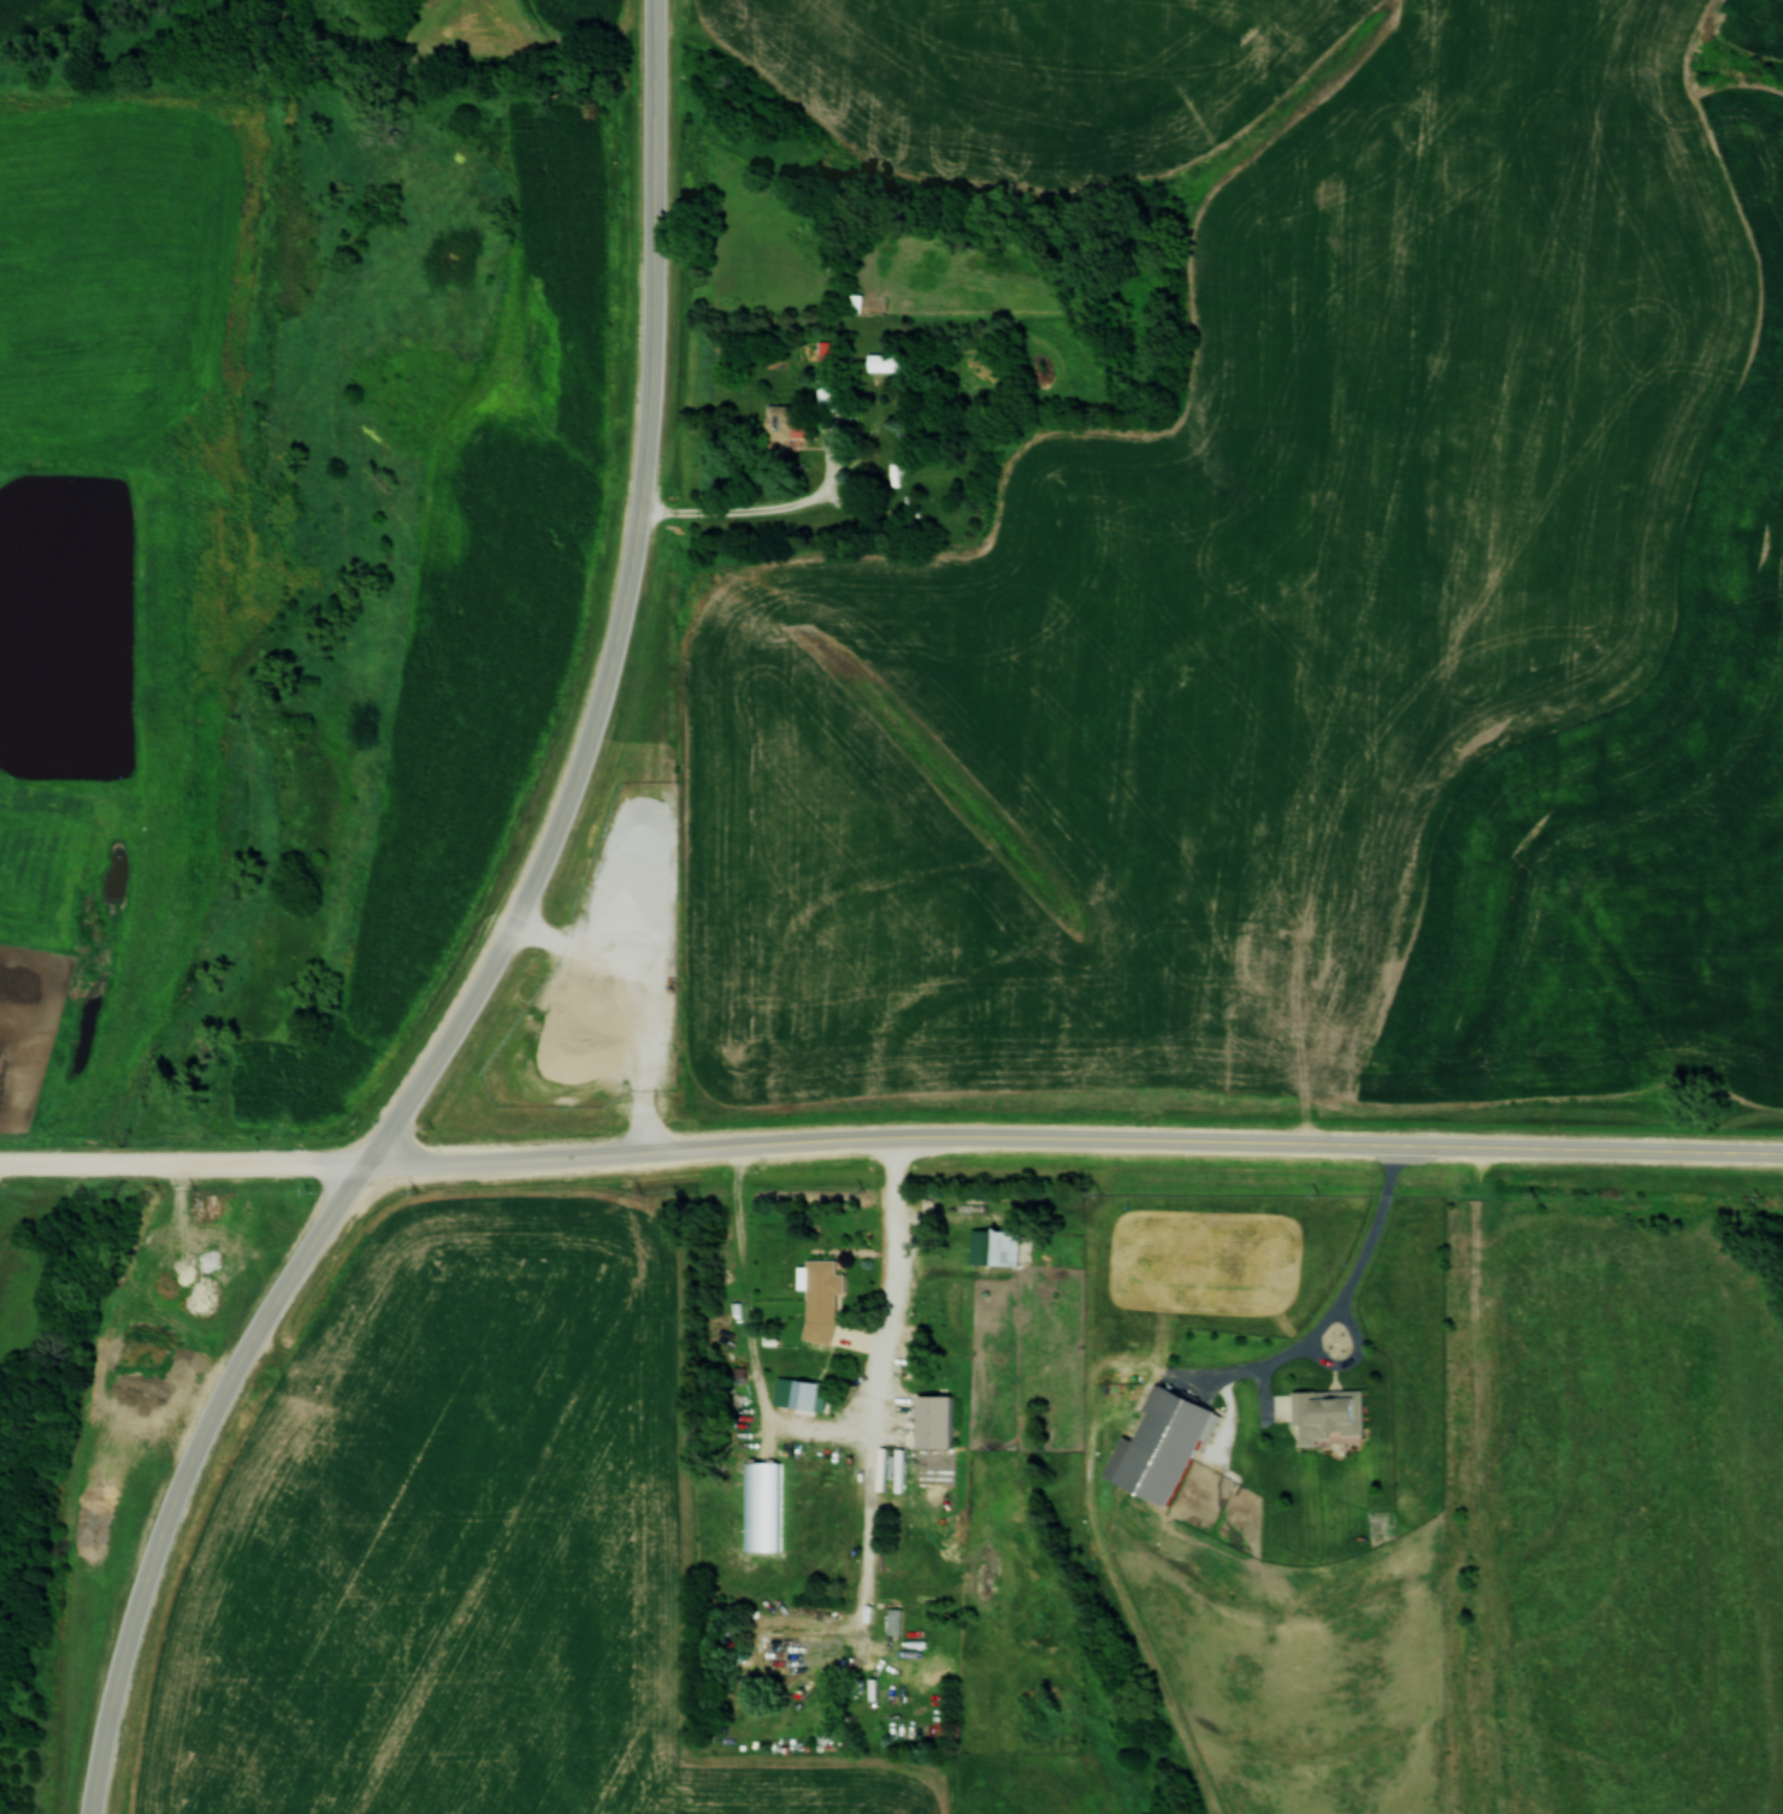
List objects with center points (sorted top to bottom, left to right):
building: (886, 361)
building: (826, 392)
building: (781, 424)
building: (856, 484)
building: (908, 506)
road: (622, 610)
road: (1074, 1136)
road: (183, 1160)
building: (993, 1246)
road: (1339, 1298)
building: (820, 1299)
building: (802, 1393)
building: (1326, 1413)
building: (932, 1420)
building: (1159, 1444)
road: (185, 1470)
building: (757, 1620)
building: (893, 1620)
building: (749, 1691)
building: (785, 1697)
building: (822, 1697)
building: (904, 1697)

